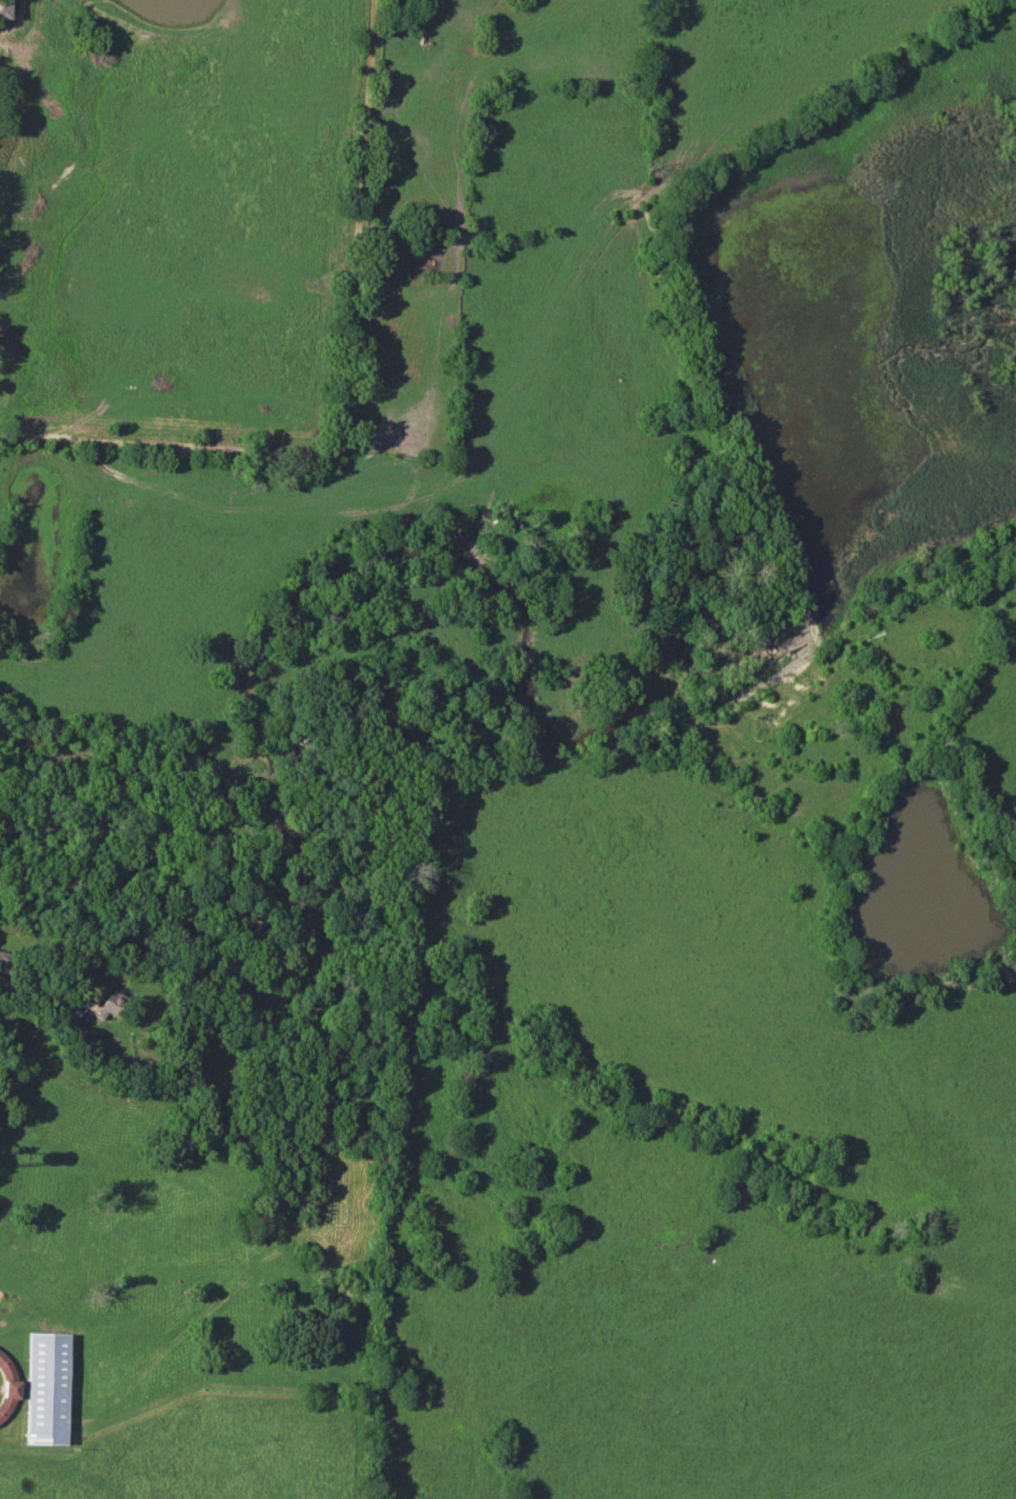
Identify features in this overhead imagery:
road: (152, 442)
building: (110, 1003)
building: (48, 1388)

